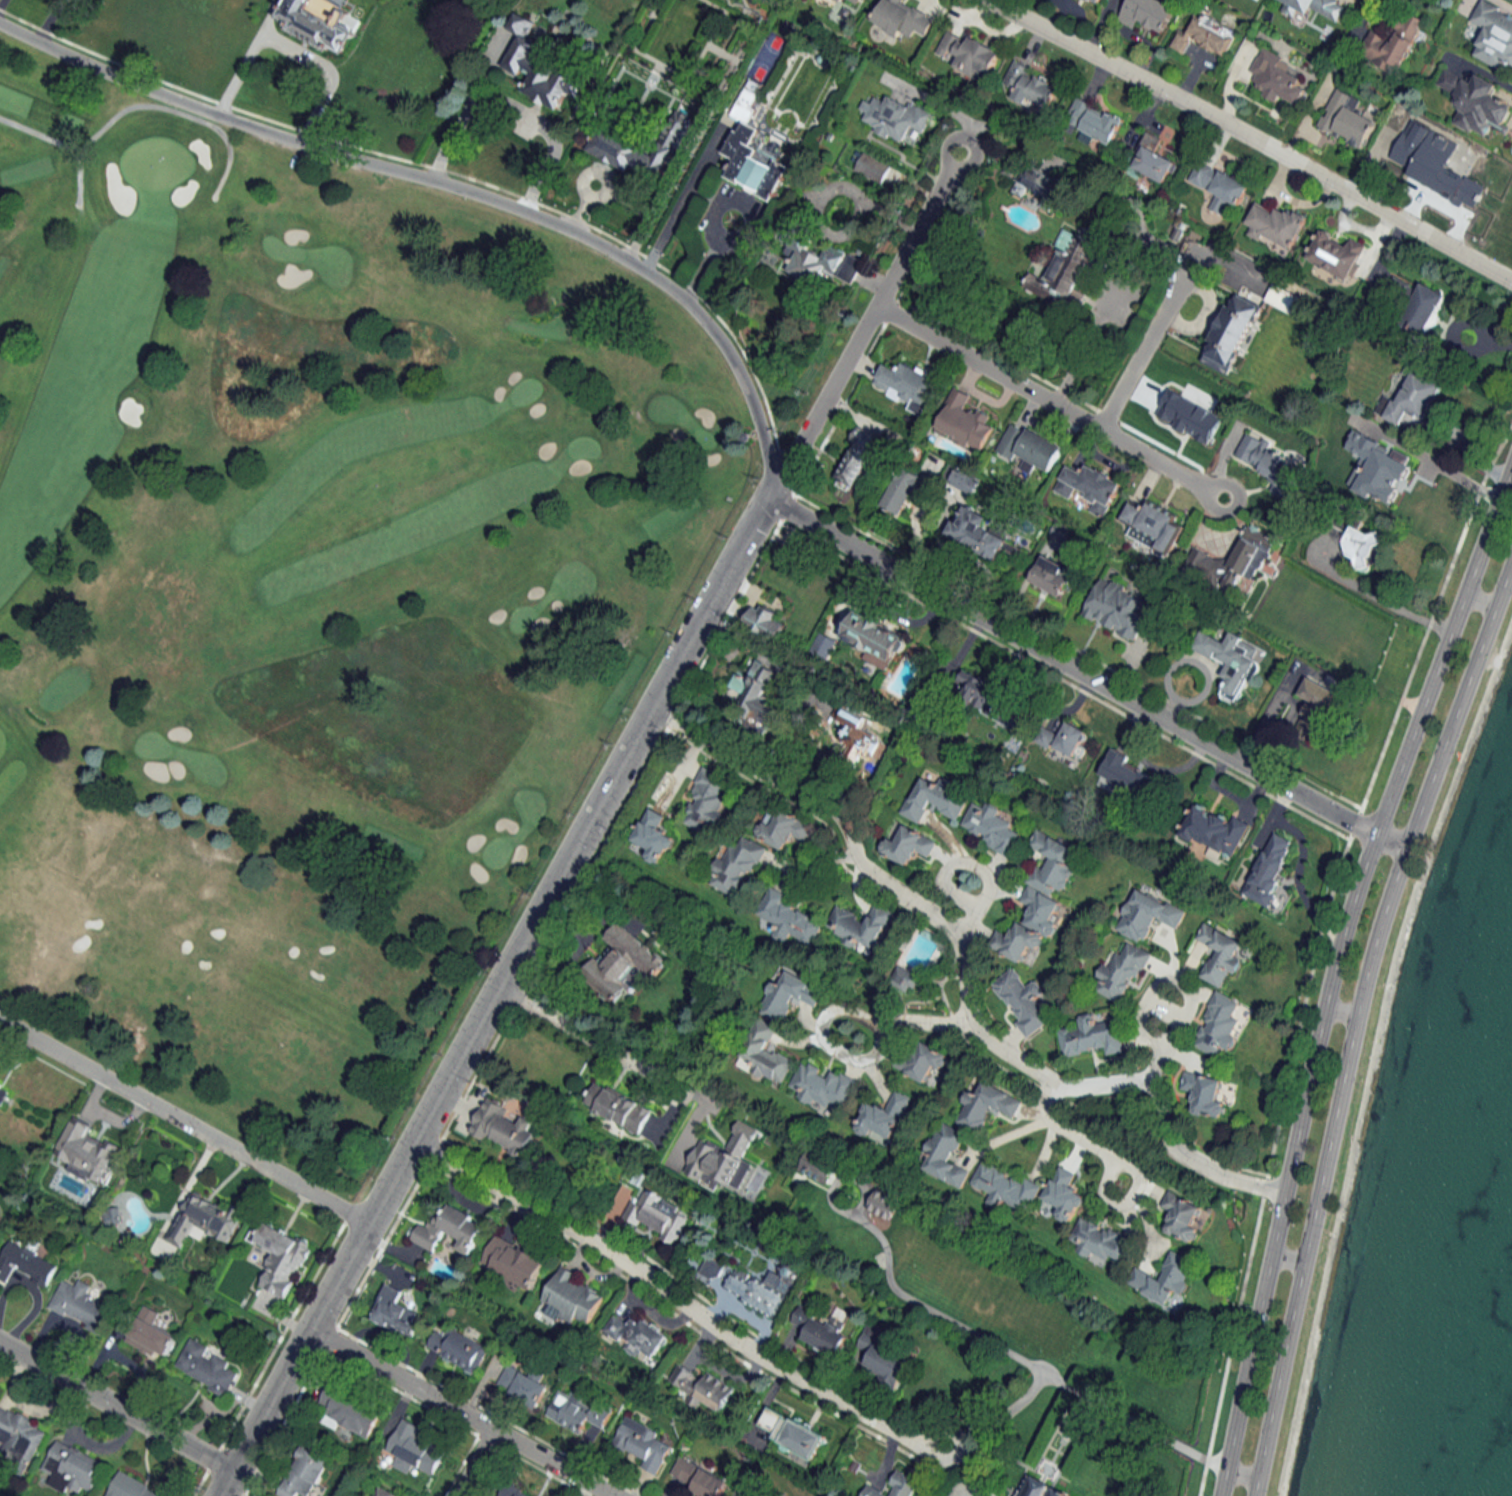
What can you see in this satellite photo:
building: (1096, 1)
building: (852, 2)
building: (1316, 7)
building: (201, 11)
building: (1148, 13)
building: (903, 18)
building: (317, 21)
building: (1493, 34)
building: (1205, 36)
building: (1393, 42)
building: (968, 54)
road: (245, 55)
building: (539, 68)
road: (323, 69)
building: (1276, 77)
building: (1031, 85)
building: (1476, 102)
road: (513, 108)
road: (174, 110)
building: (895, 117)
building: (1347, 119)
building: (1094, 120)
road: (1250, 137)
road: (61, 143)
building: (642, 148)
building: (753, 154)
building: (1149, 155)
building: (1437, 163)
building: (872, 167)
road: (452, 182)
building: (1220, 185)
building: (1041, 186)
road: (683, 198)
road: (710, 217)
building: (1276, 224)
building: (1336, 254)
building: (822, 263)
building: (1064, 272)
building: (1424, 309)
road: (865, 323)
building: (1232, 328)
road: (1087, 343)
road: (1145, 346)
building: (908, 385)
building: (1411, 396)
road: (1049, 403)
building: (963, 421)
building: (1029, 447)
building: (856, 456)
building: (1268, 462)
building: (966, 480)
building: (1090, 486)
building: (904, 489)
building: (1153, 523)
building: (977, 532)
building: (1363, 547)
building: (1232, 562)
building: (1052, 575)
park: (304, 593)
road: (1381, 597)
road: (1479, 600)
building: (1115, 607)
building: (1331, 613)
building: (765, 621)
building: (875, 638)
building: (823, 646)
building: (1229, 661)
road: (802, 671)
road: (1083, 676)
building: (757, 689)
building: (988, 697)
building: (1315, 710)
building: (859, 734)
building: (1065, 739)
building: (1126, 774)
building: (934, 798)
building: (707, 802)
building: (782, 827)
building: (992, 828)
building: (1214, 831)
building: (651, 838)
building: (907, 845)
building: (736, 866)
road: (809, 867)
road: (977, 868)
building: (1268, 868)
building: (1039, 899)
building: (1147, 914)
building: (788, 918)
building: (860, 925)
building: (1219, 953)
road: (1334, 953)
building: (620, 963)
building: (1121, 971)
road: (964, 978)
building: (905, 979)
road: (1165, 980)
road: (499, 984)
building: (789, 995)
building: (1023, 1000)
road: (1339, 1009)
road: (1354, 1020)
road: (934, 1025)
building: (1218, 1025)
road: (824, 1035)
building: (1091, 1036)
road: (602, 1046)
building: (764, 1055)
building: (922, 1061)
road: (1154, 1065)
building: (824, 1086)
building: (3, 1092)
building: (1208, 1094)
building: (987, 1105)
building: (617, 1107)
building: (883, 1115)
road: (183, 1121)
building: (503, 1127)
road: (1073, 1136)
building: (84, 1150)
building: (945, 1155)
building: (724, 1159)
building: (817, 1166)
building: (1005, 1187)
building: (1064, 1194)
building: (113, 1216)
building: (656, 1216)
building: (1181, 1216)
building: (204, 1220)
building: (450, 1230)
building: (1100, 1240)
road: (1287, 1255)
building: (281, 1258)
building: (512, 1261)
building: (25, 1262)
building: (712, 1268)
building: (1164, 1277)
building: (761, 1290)
building: (573, 1296)
road: (673, 1303)
building: (81, 1305)
building: (394, 1312)
building: (824, 1329)
building: (151, 1333)
building: (635, 1335)
building: (457, 1348)
road: (3, 1353)
building: (882, 1357)
road: (1027, 1365)
building: (206, 1367)
building: (522, 1384)
building: (702, 1387)
road: (116, 1407)
road: (27, 1408)
building: (348, 1412)
building: (575, 1412)
road: (460, 1413)
building: (793, 1432)
building: (20, 1435)
building: (642, 1443)
road: (88, 1446)
building: (413, 1449)
road: (474, 1463)
building: (72, 1468)
road: (1240, 1472)
building: (305, 1474)
building: (698, 1478)
road: (1220, 1481)
road: (225, 1483)
building: (896, 1486)
building: (1032, 1486)
building: (132, 1487)
building: (511, 1491)
building: (385, 1492)
building: (1058, 1492)

